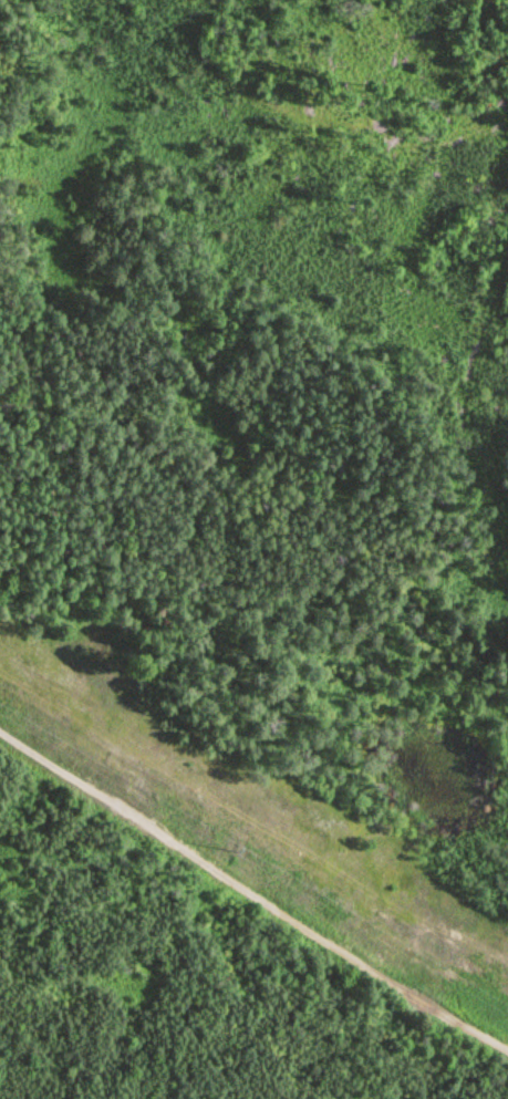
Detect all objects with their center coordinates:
road: (252, 894)

